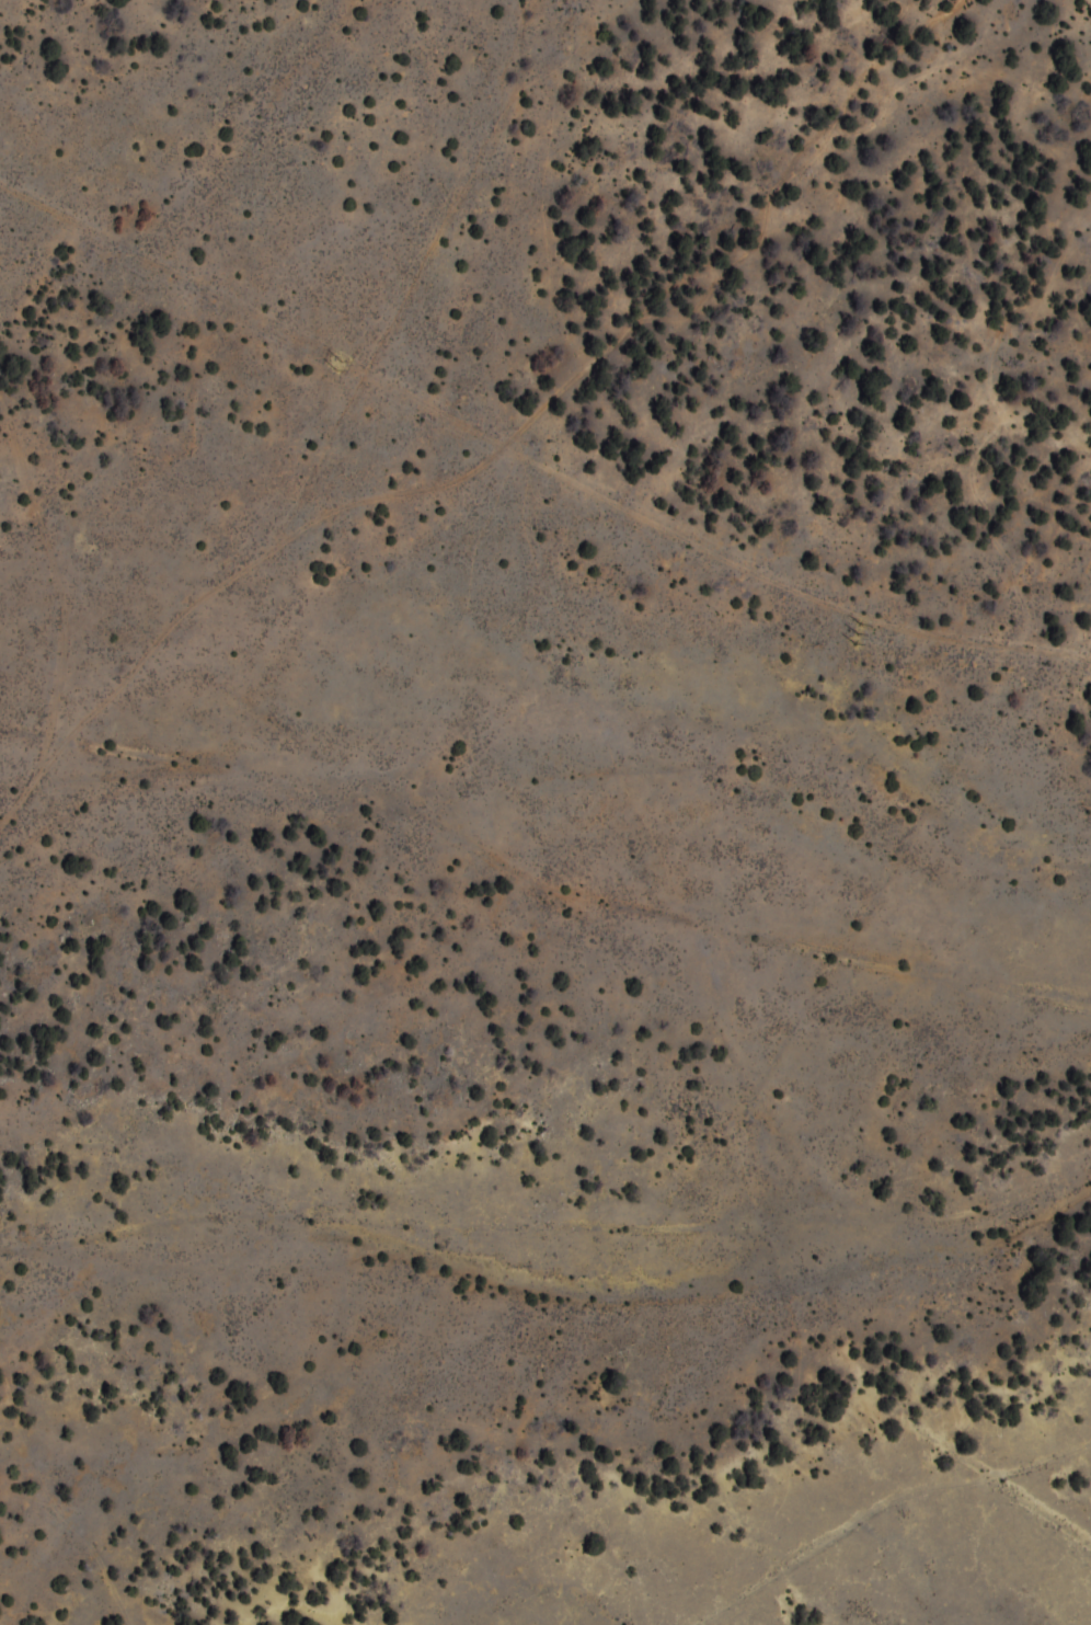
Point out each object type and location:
power tower: (330, 363)
power tower: (858, 633)

